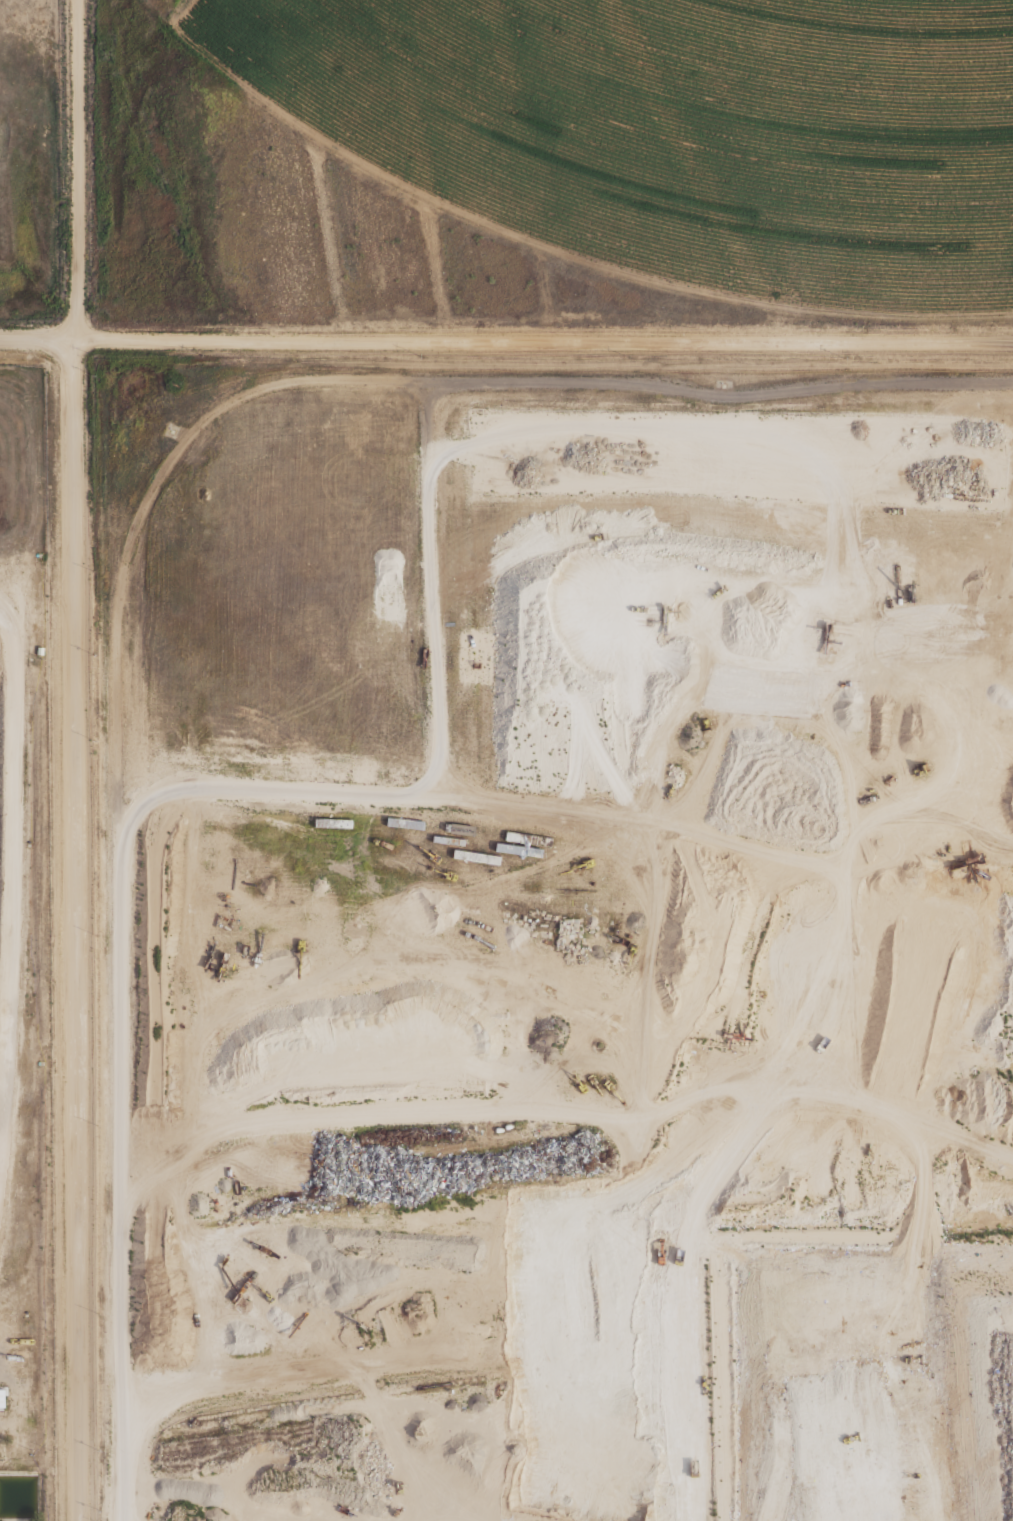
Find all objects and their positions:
crop: (679, 128)
road: (78, 171)
road: (547, 247)
road: (36, 341)
road: (543, 342)
road: (417, 382)
road: (818, 494)
road: (690, 783)
road: (451, 800)
road: (884, 825)
road: (195, 855)
road: (7, 864)
road: (75, 931)
landfill: (28, 954)
road: (945, 986)
road: (754, 1073)
road: (114, 1109)
road: (374, 1115)
road: (946, 1124)
road: (152, 1173)
road: (413, 1240)
road: (512, 1262)
building: (3, 1398)

